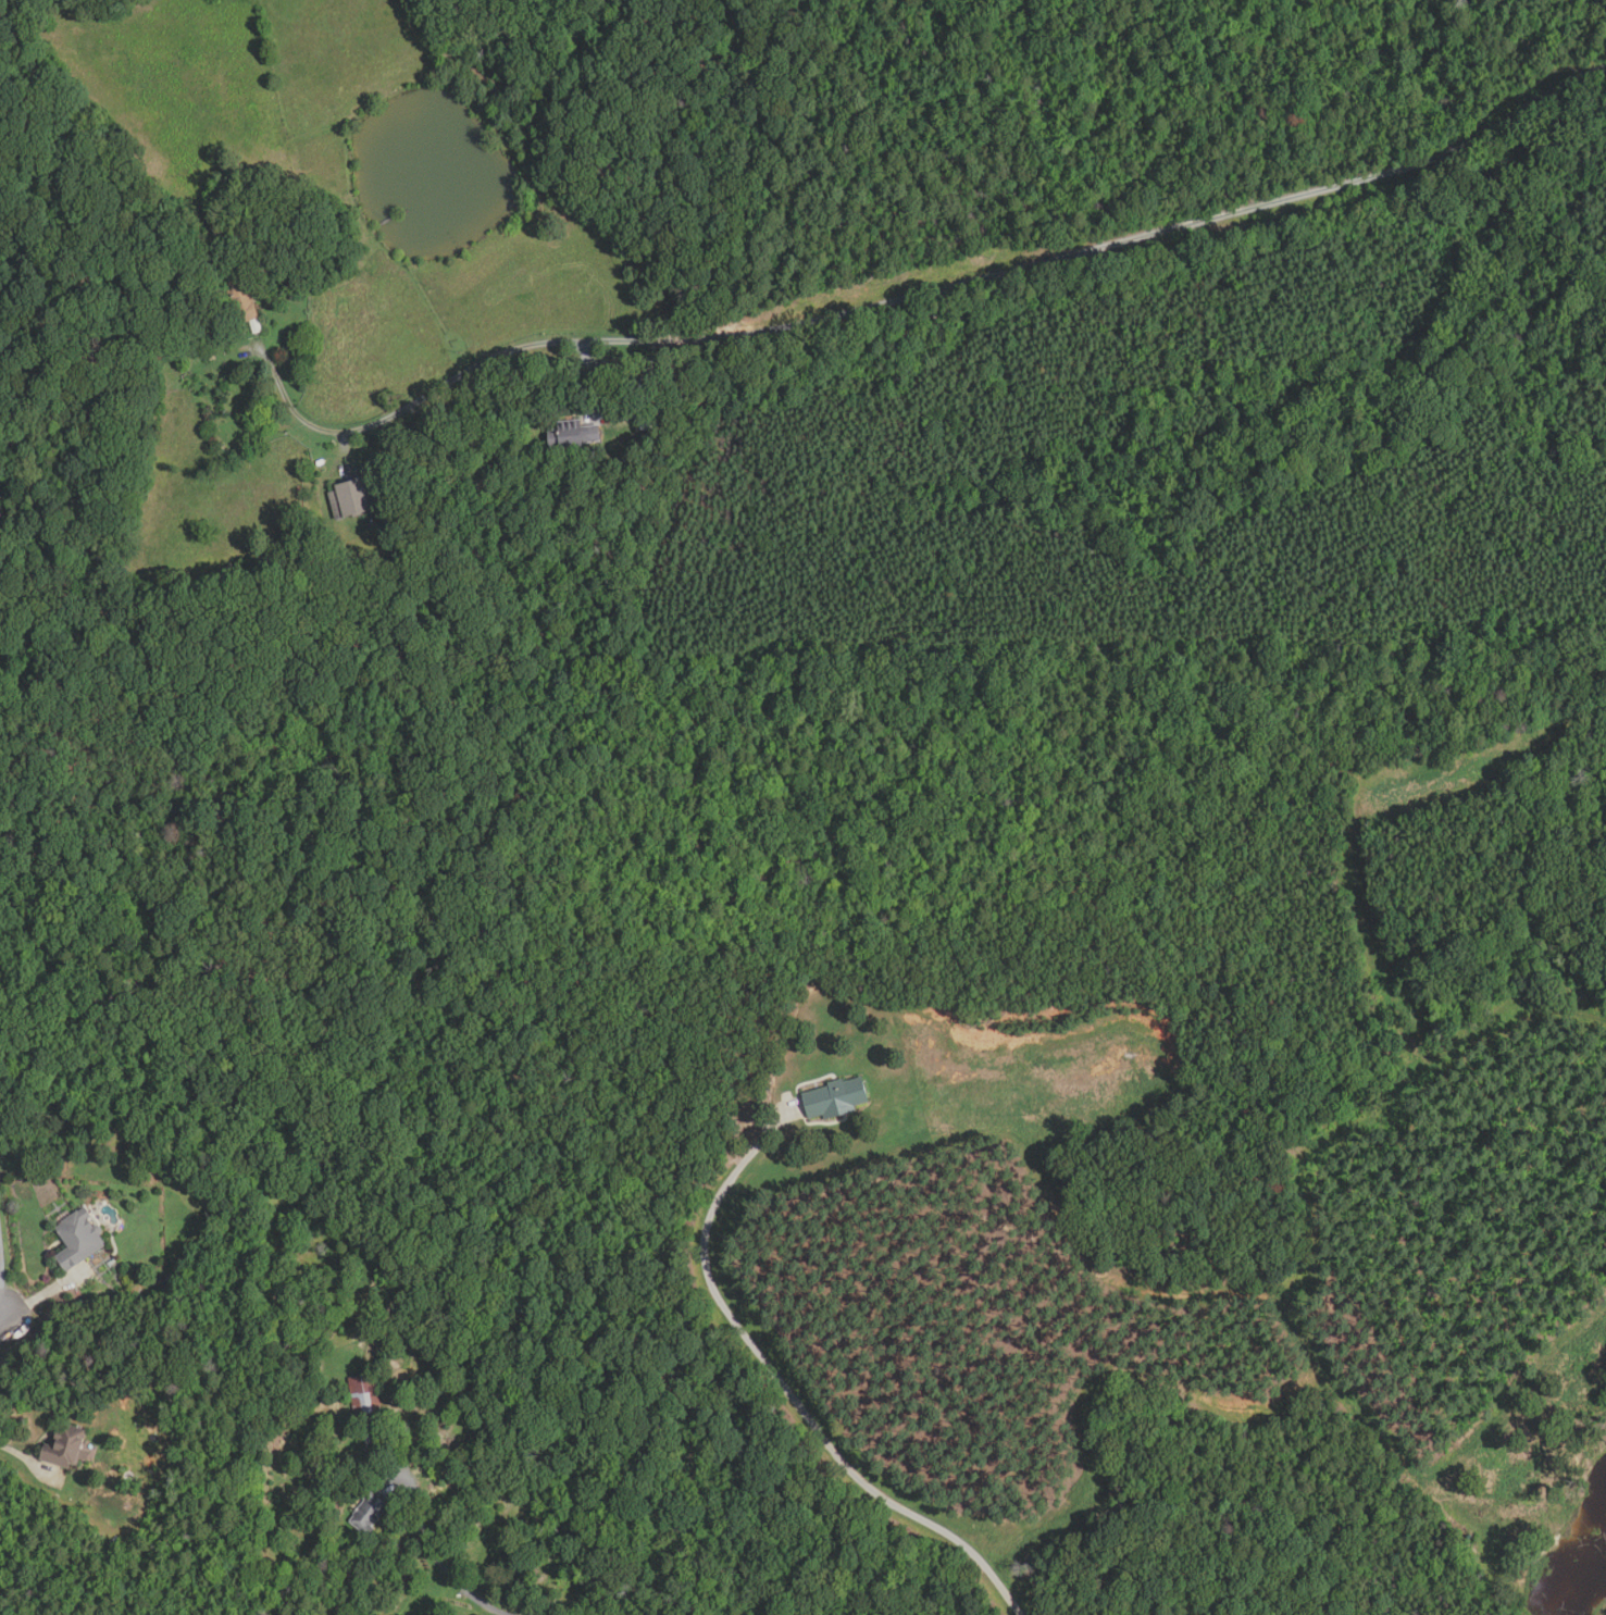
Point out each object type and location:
road: (963, 283)
building: (244, 297)
building: (668, 365)
building: (574, 434)
building: (353, 498)
building: (273, 560)
building: (837, 1098)
building: (79, 1240)
road: (2, 1283)
road: (48, 1293)
road: (2, 1317)
road: (788, 1388)
building: (364, 1395)
building: (66, 1450)
road: (25, 1457)
building: (371, 1511)
road: (439, 1560)

